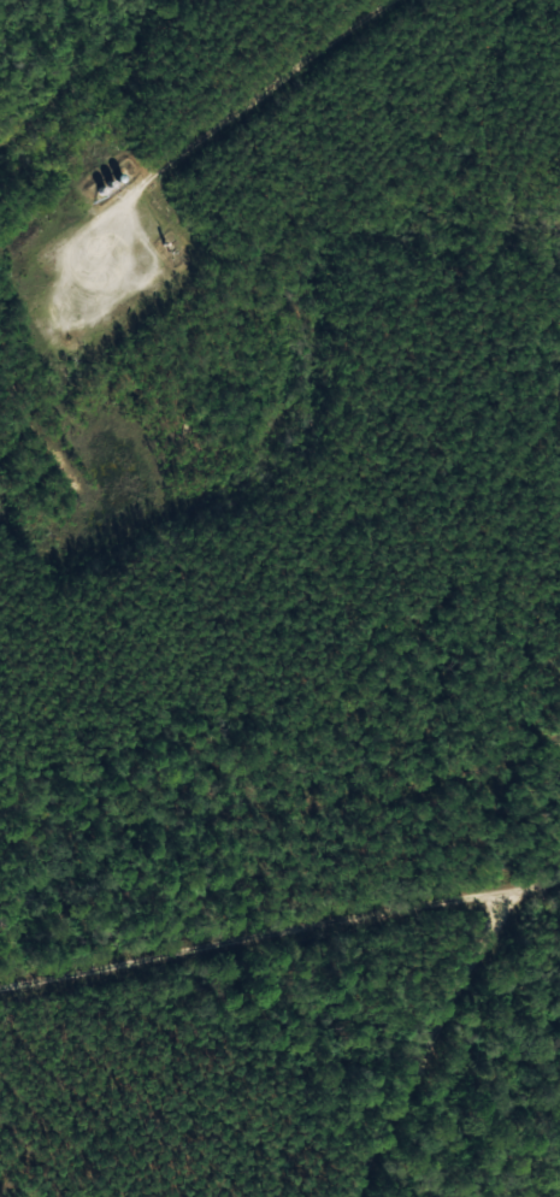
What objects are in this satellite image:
road: (279, 940)

